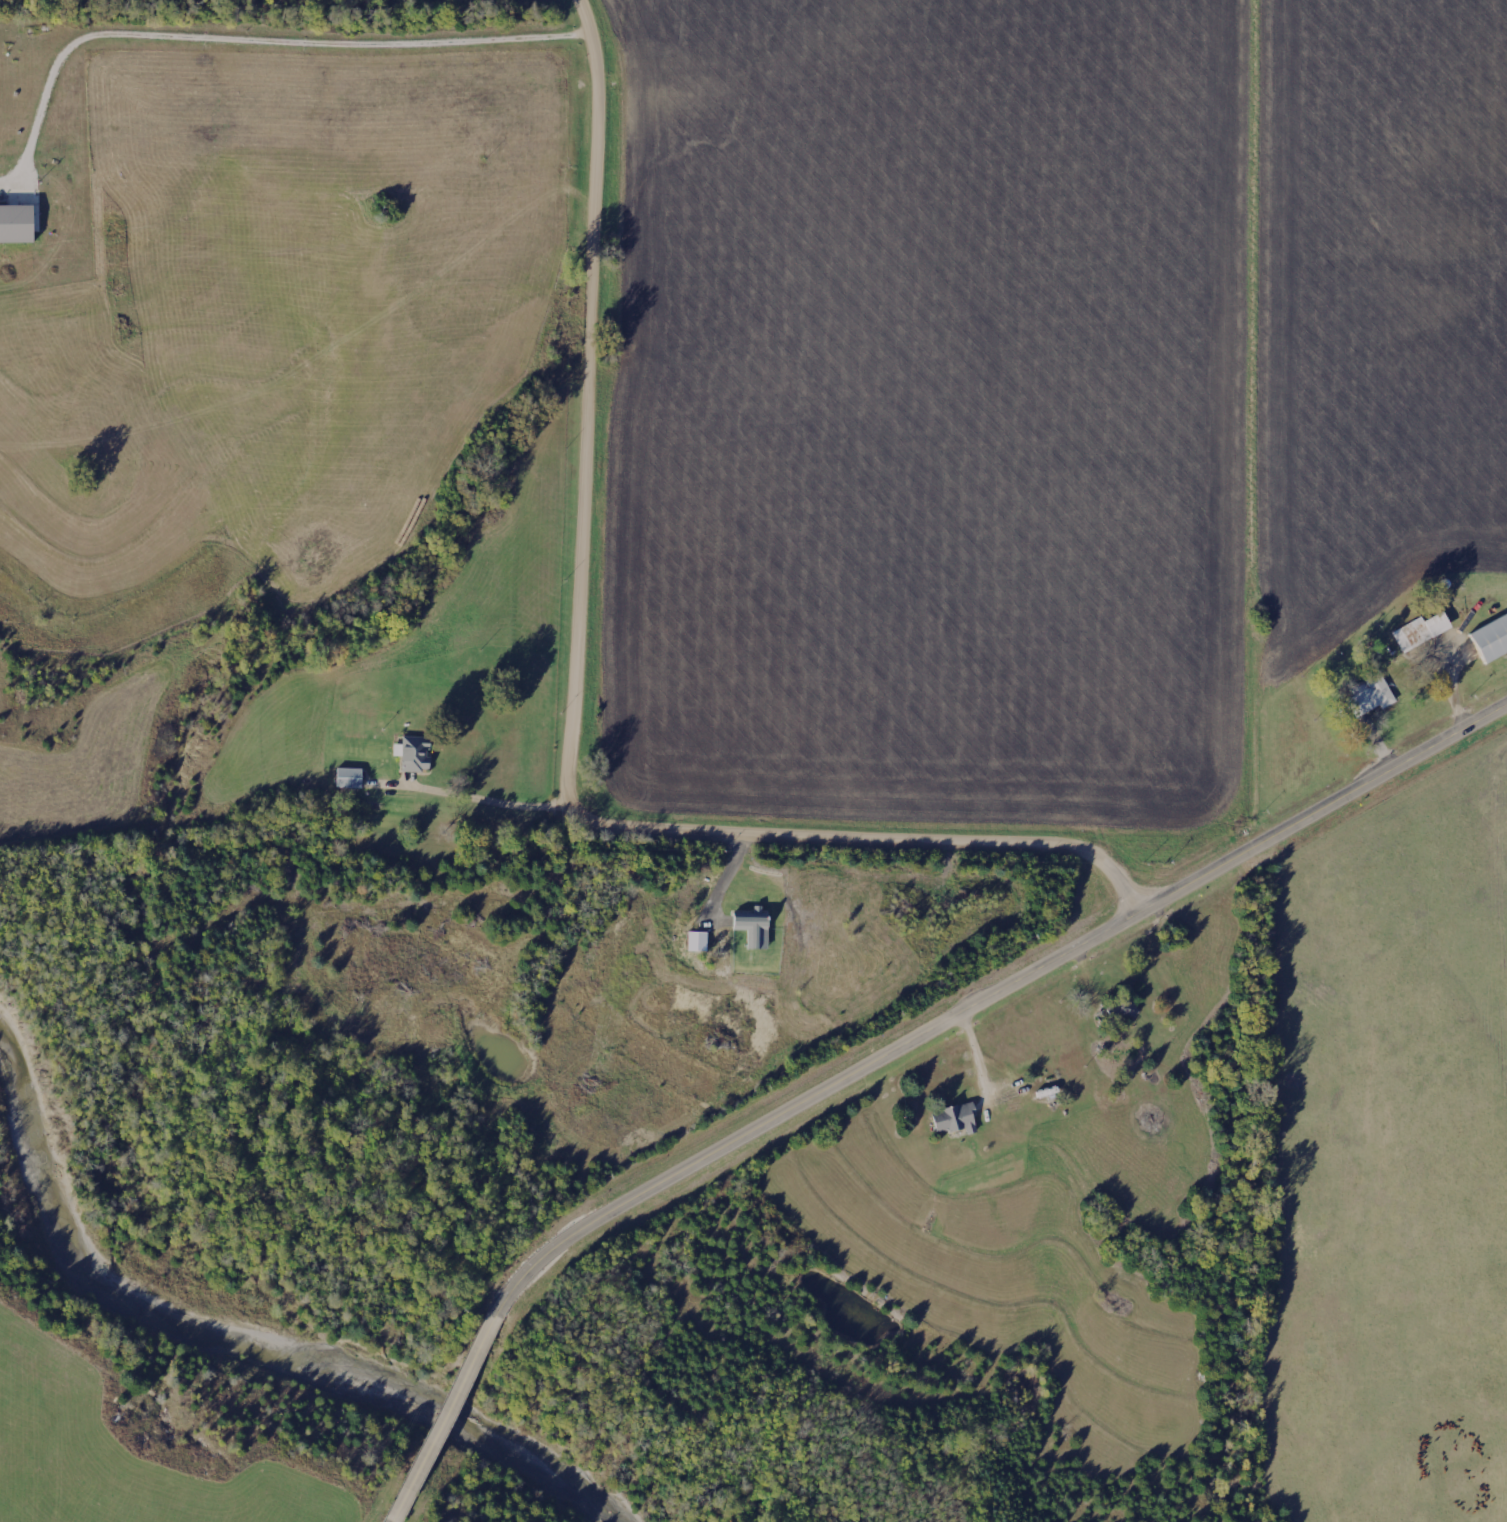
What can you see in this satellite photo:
road: (248, 39)
building: (17, 224)
building: (1422, 632)
building: (1492, 640)
road: (582, 695)
building: (1371, 696)
building: (415, 754)
building: (350, 779)
building: (754, 930)
building: (698, 942)
road: (890, 1053)
building: (957, 1120)

